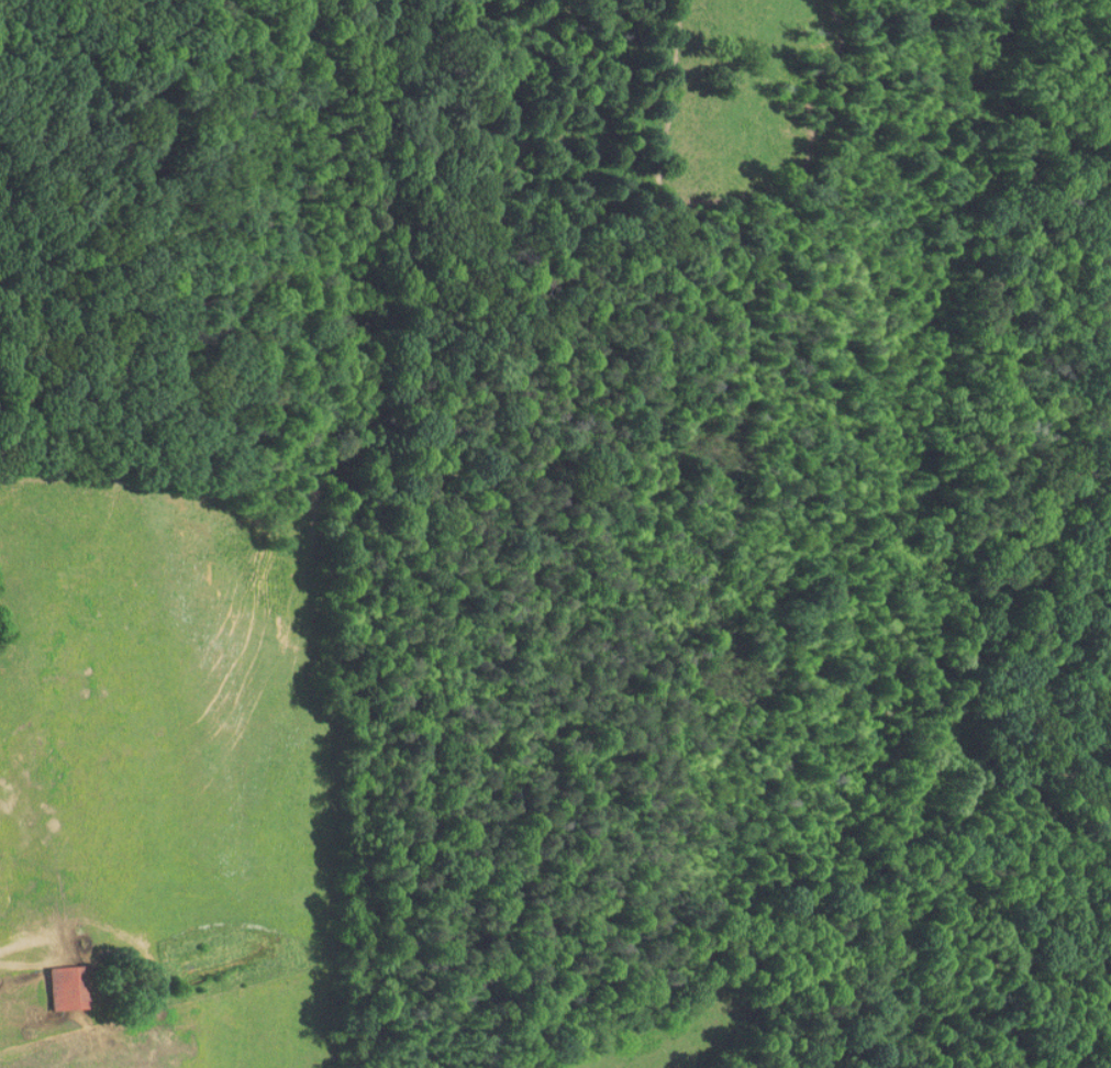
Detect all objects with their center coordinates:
building: (57, 980)

